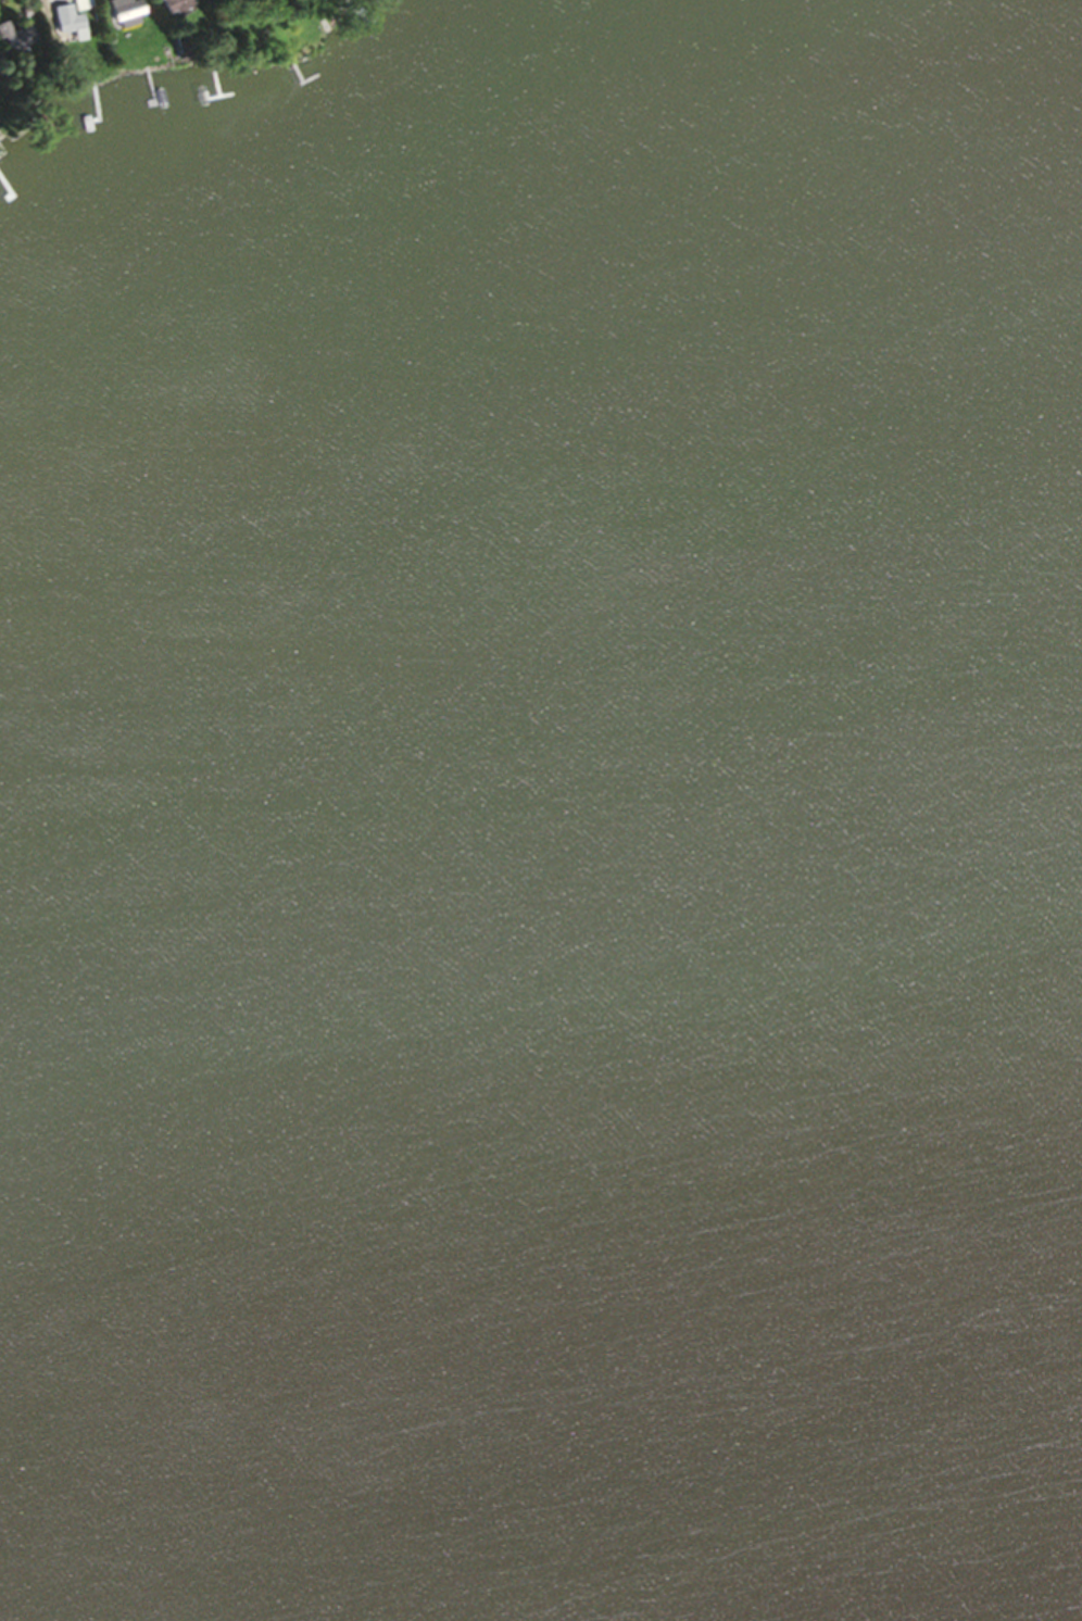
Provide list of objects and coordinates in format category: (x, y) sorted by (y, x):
river: (841, 4)
building: (85, 7)
building: (179, 7)
building: (130, 14)
building: (73, 26)
building: (16, 41)

